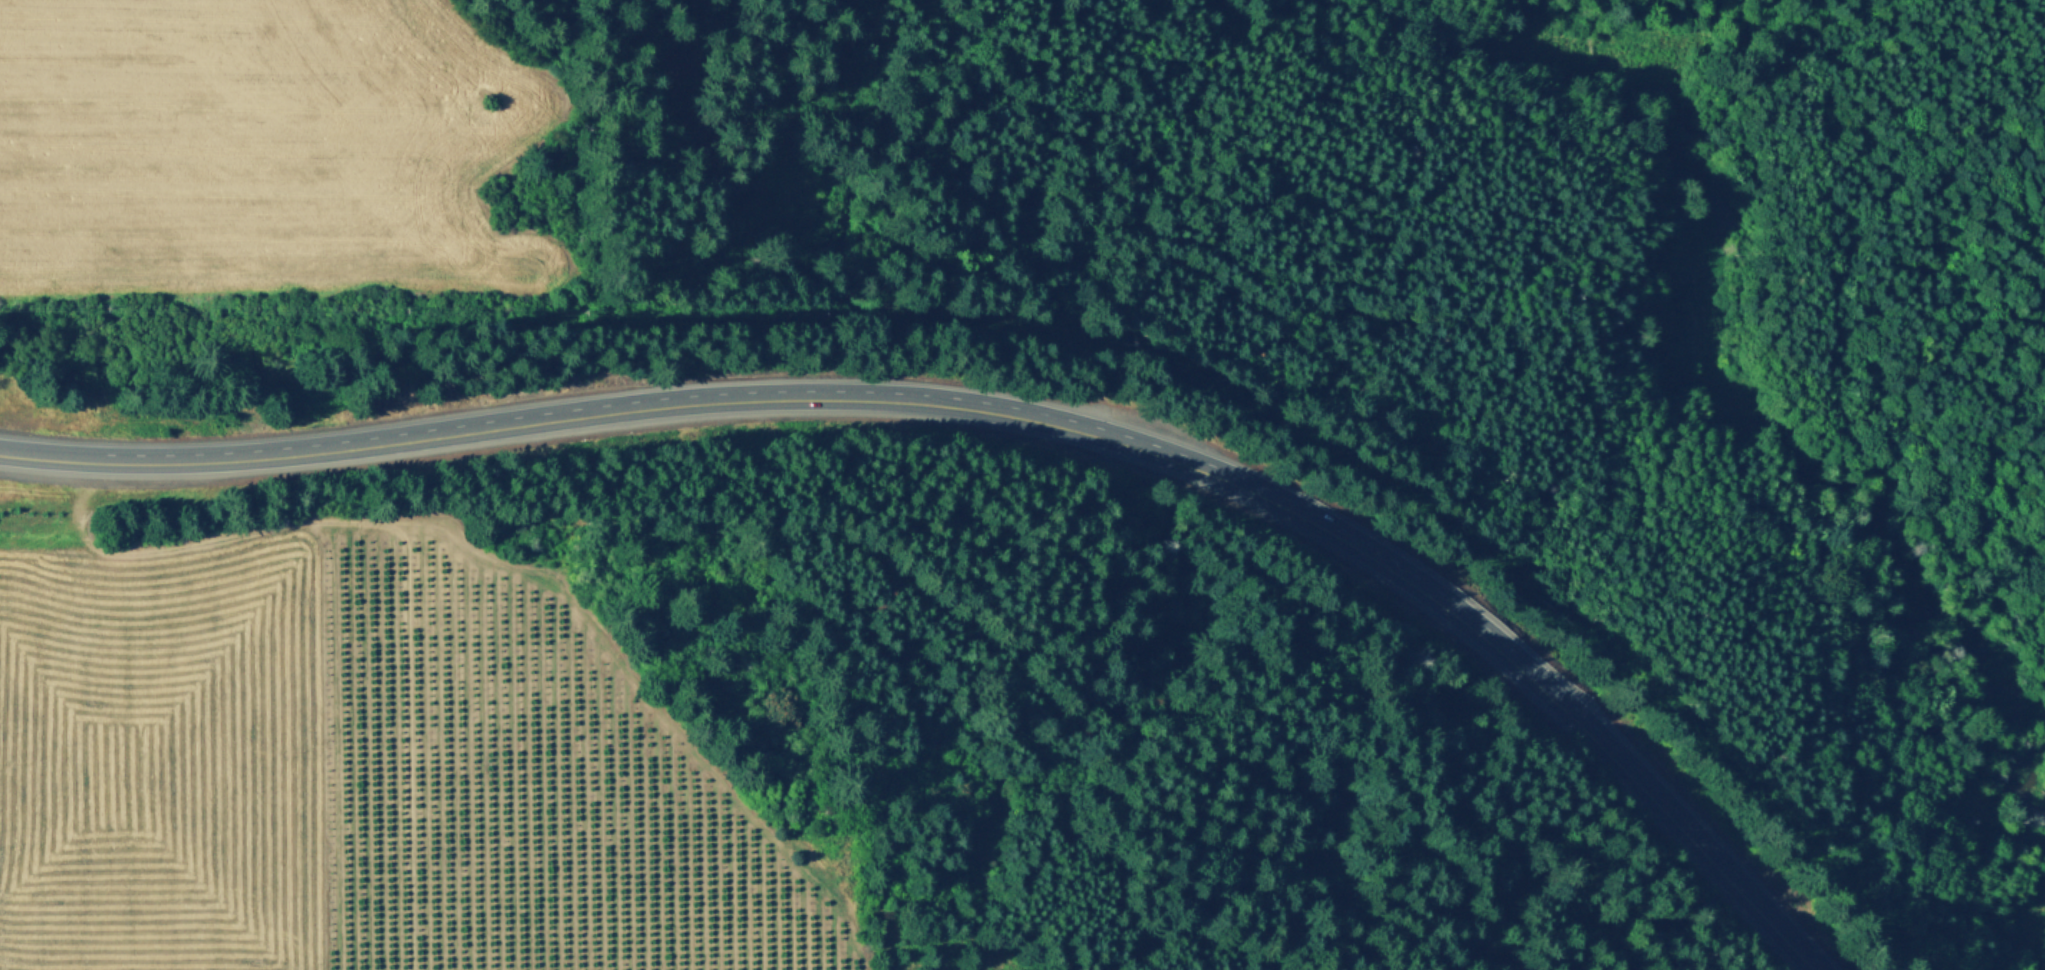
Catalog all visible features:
building: (672, 63)
crop: (256, 147)
road: (1935, 217)
road: (843, 262)
road: (1002, 414)
road: (490, 556)
crop: (357, 776)

